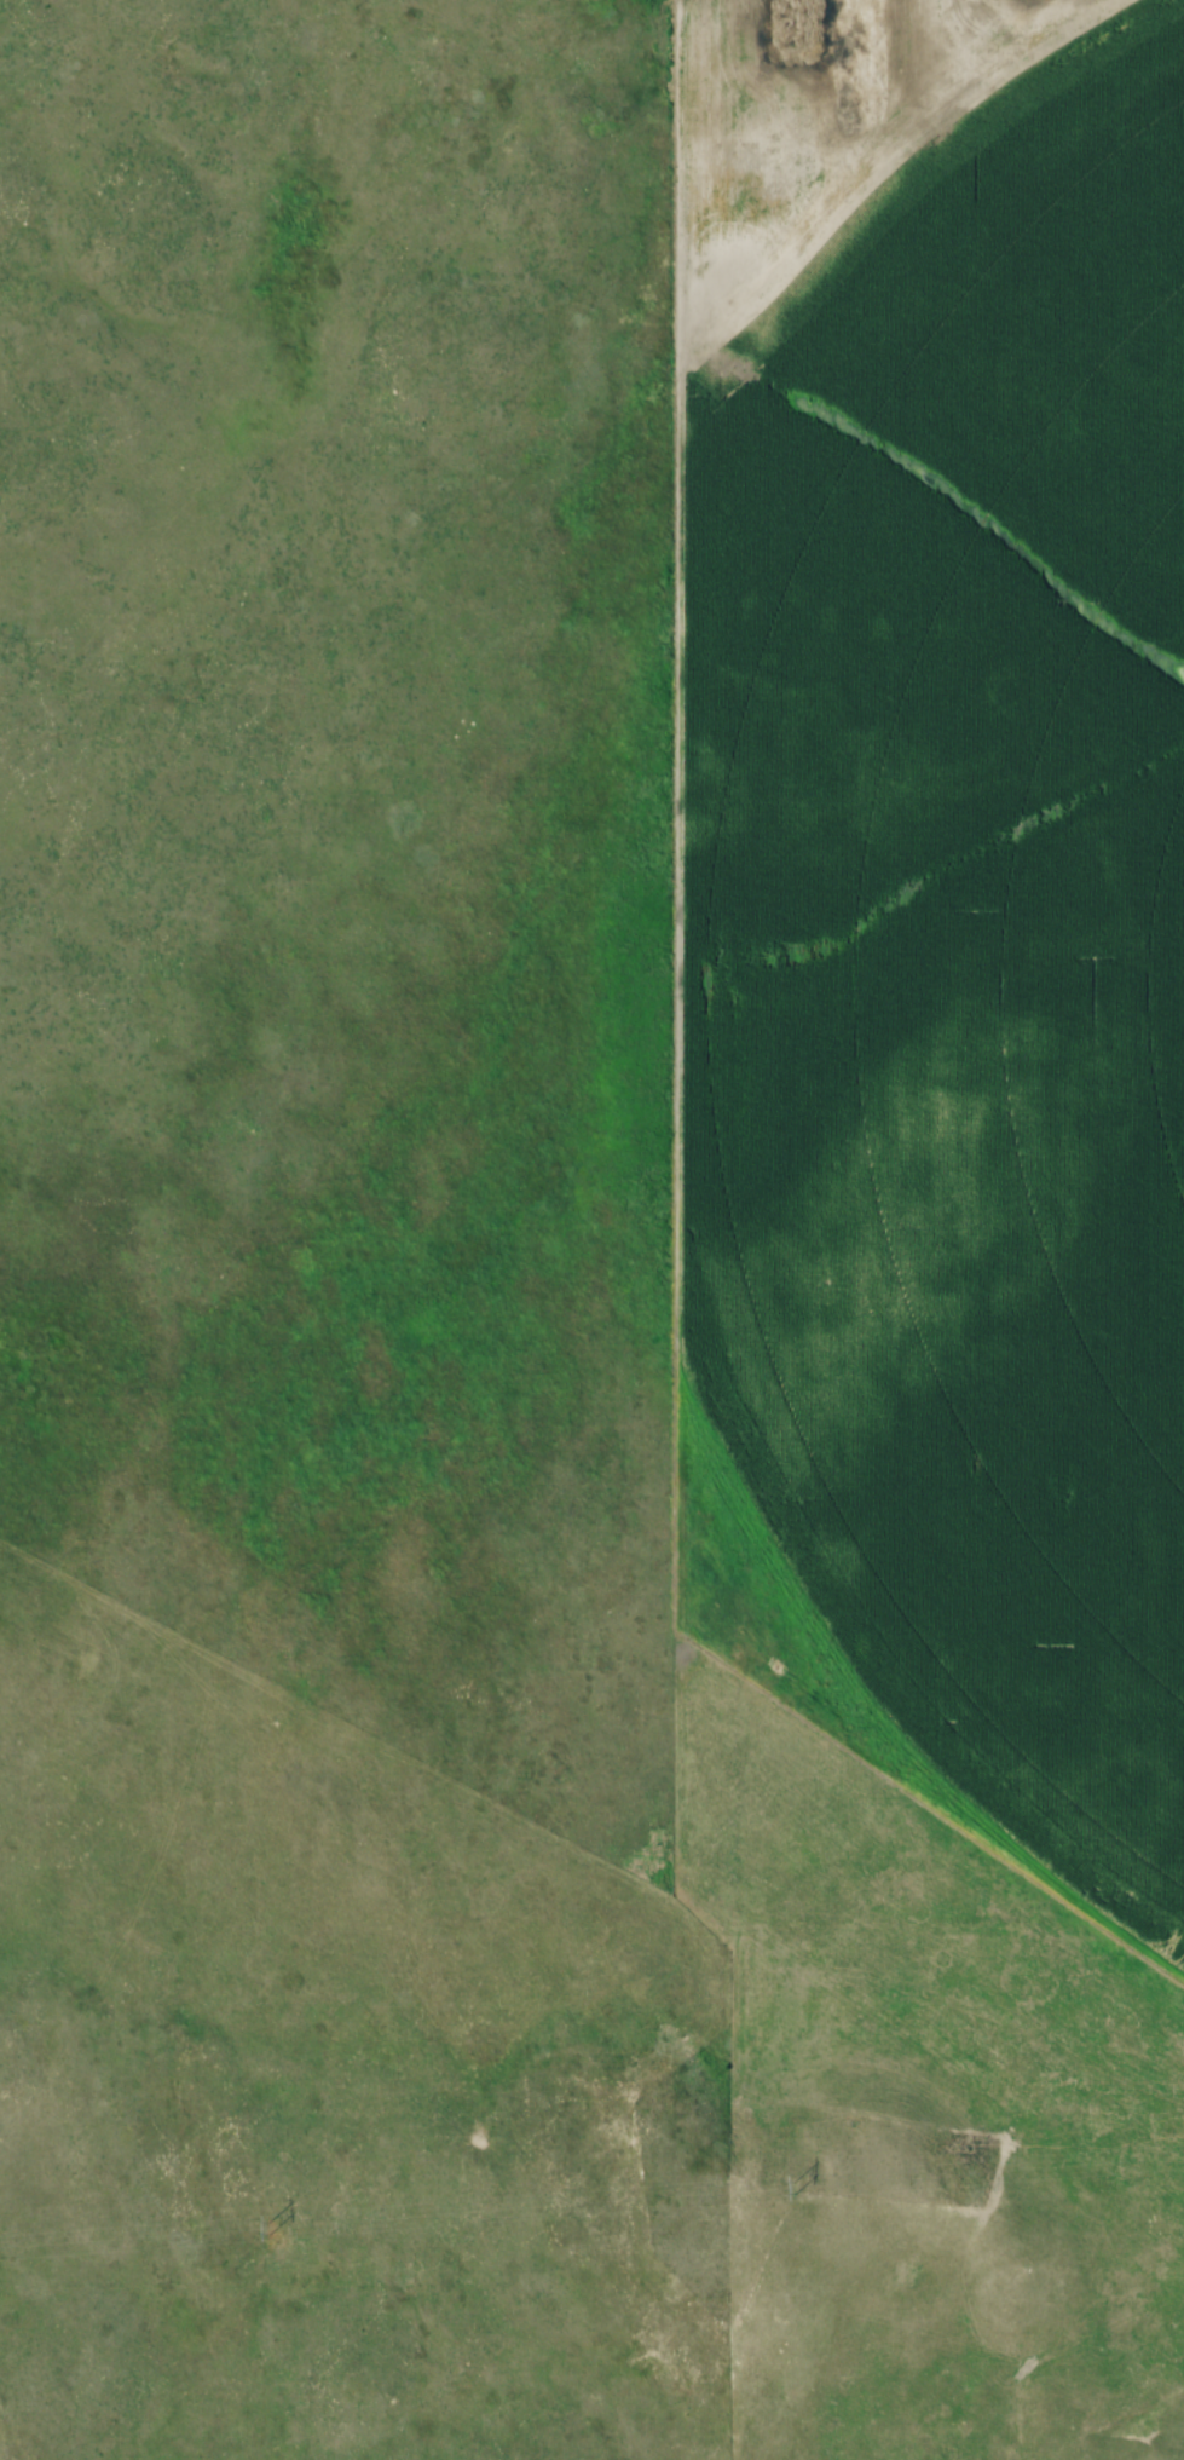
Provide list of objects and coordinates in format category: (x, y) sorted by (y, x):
power tower: (789, 2189)
power tower: (262, 2228)

